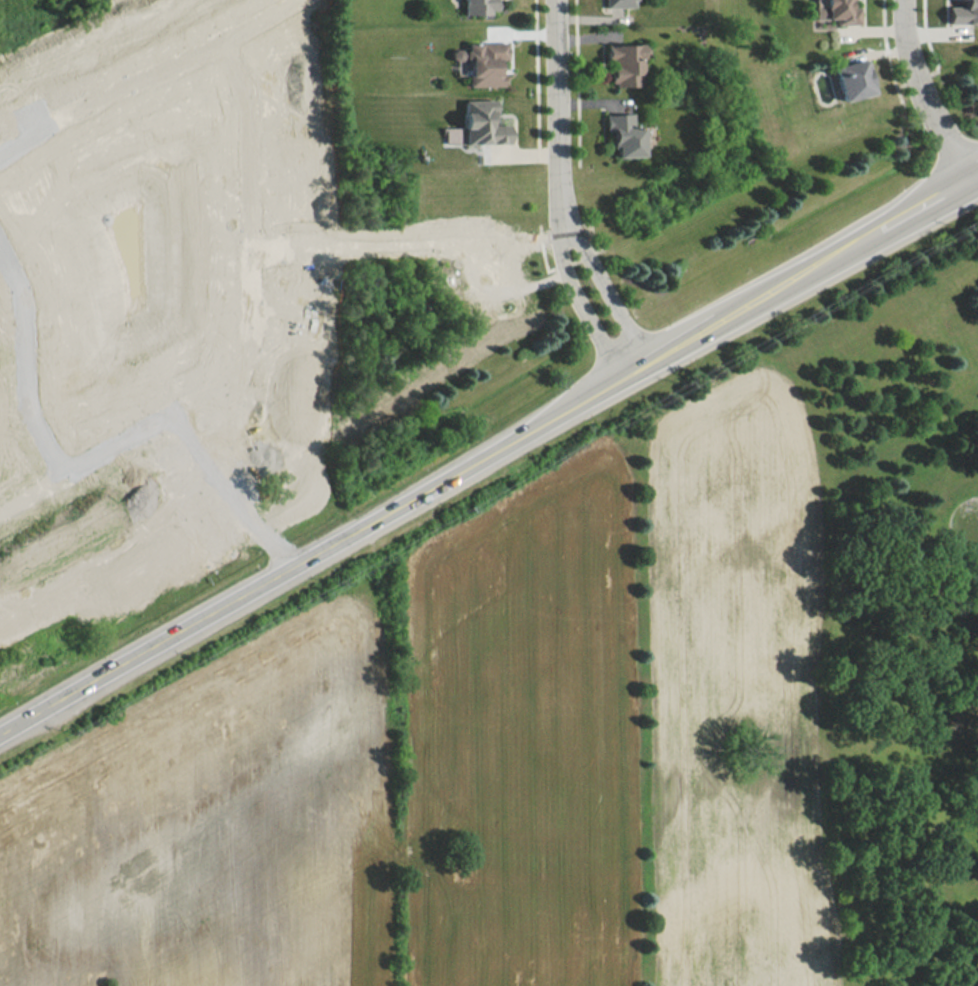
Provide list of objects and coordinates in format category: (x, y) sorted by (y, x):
building: (481, 3)
building: (619, 3)
building: (846, 7)
building: (963, 7)
road: (567, 10)
road: (606, 10)
road: (928, 17)
road: (897, 21)
road: (511, 23)
road: (952, 23)
road: (546, 24)
road: (917, 24)
road: (867, 26)
road: (863, 39)
road: (899, 42)
road: (890, 53)
building: (482, 54)
building: (625, 58)
building: (853, 71)
road: (538, 75)
road: (148, 77)
road: (582, 89)
road: (923, 91)
road: (569, 96)
road: (607, 96)
road: (556, 109)
building: (480, 115)
building: (629, 129)
road: (512, 145)
road: (548, 145)
road: (548, 153)
road: (974, 169)
road: (885, 221)
road: (419, 245)
road: (610, 282)
road: (586, 296)
road: (246, 344)
road: (20, 371)
road: (399, 496)
road: (187, 511)
crop: (730, 697)
crop: (525, 733)
crop: (208, 827)

